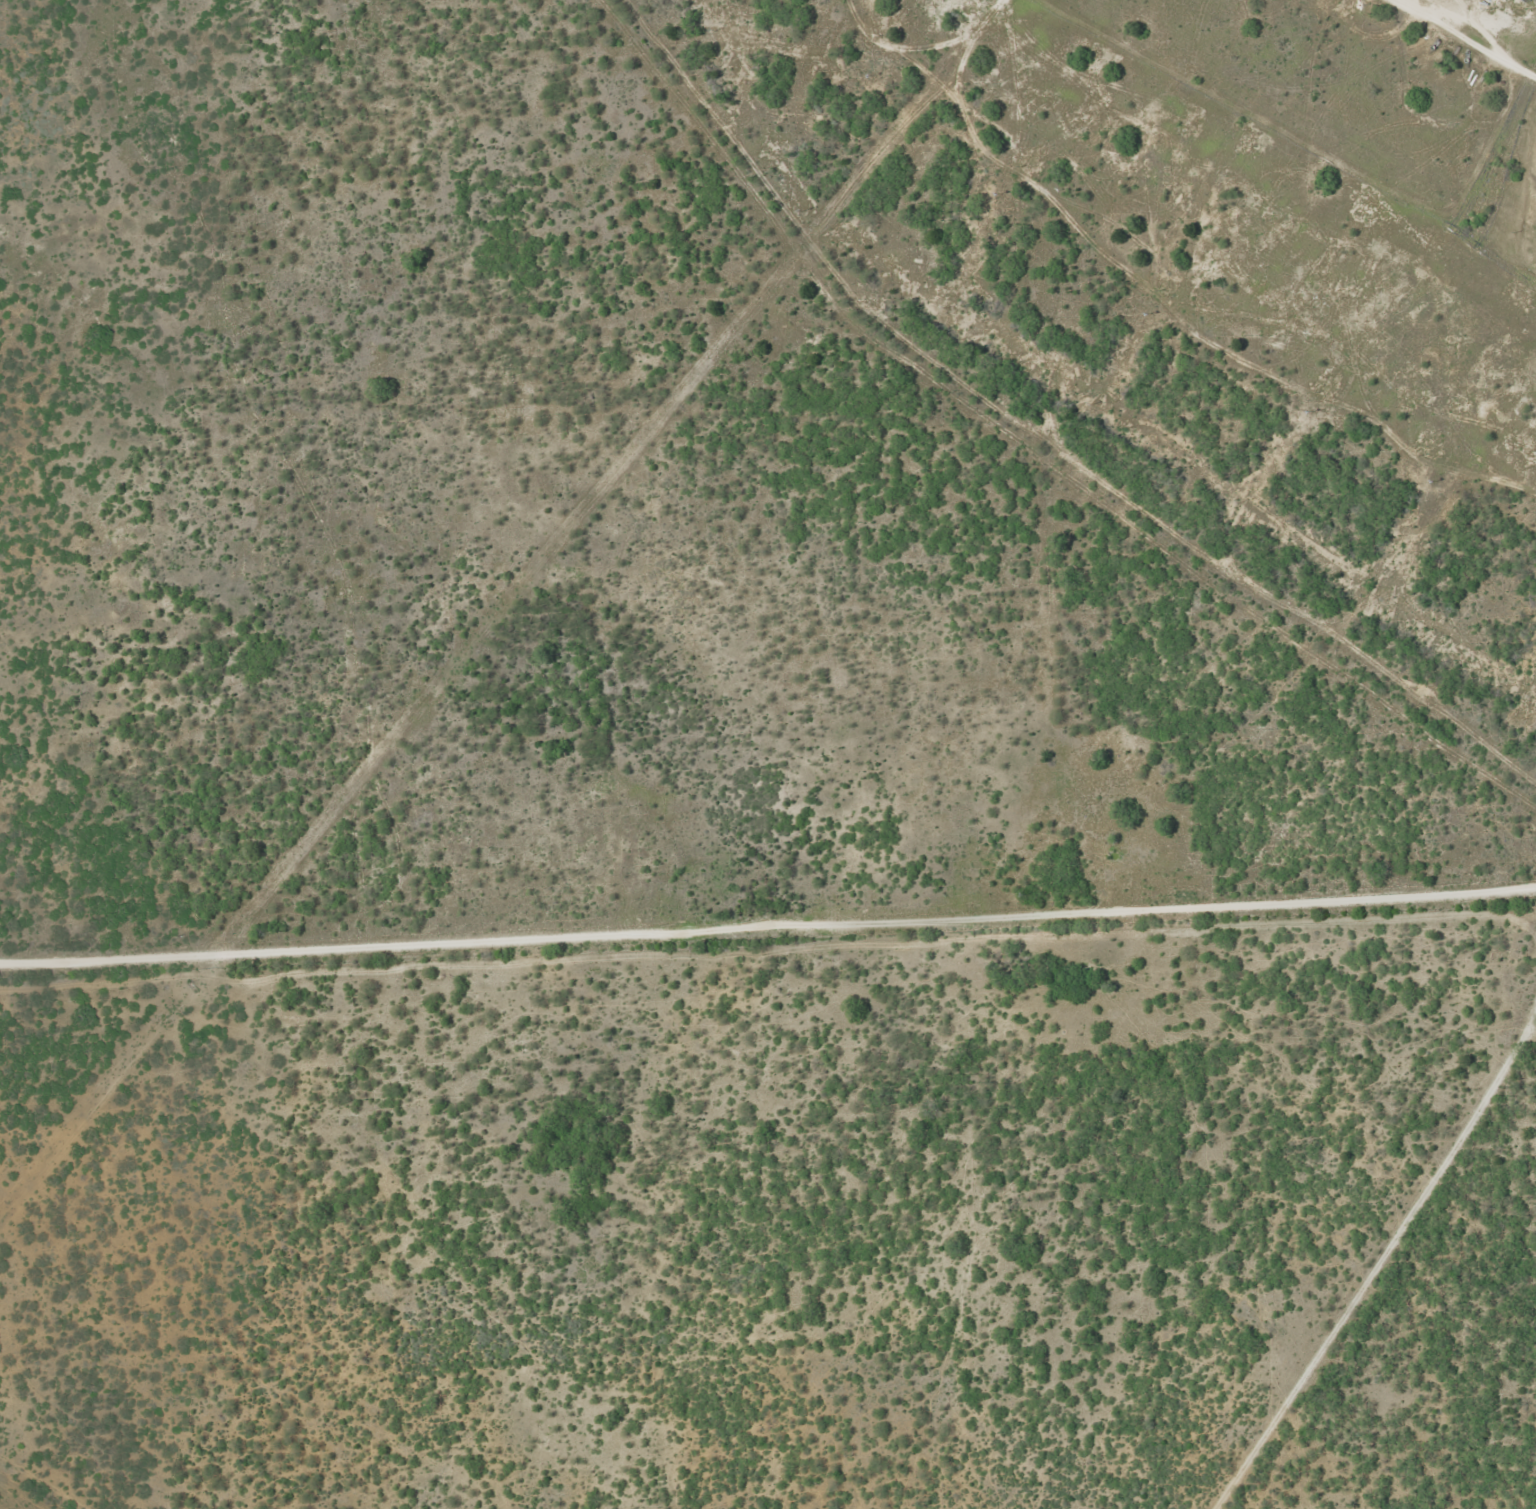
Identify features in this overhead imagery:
road: (1055, 453)
road: (767, 923)

